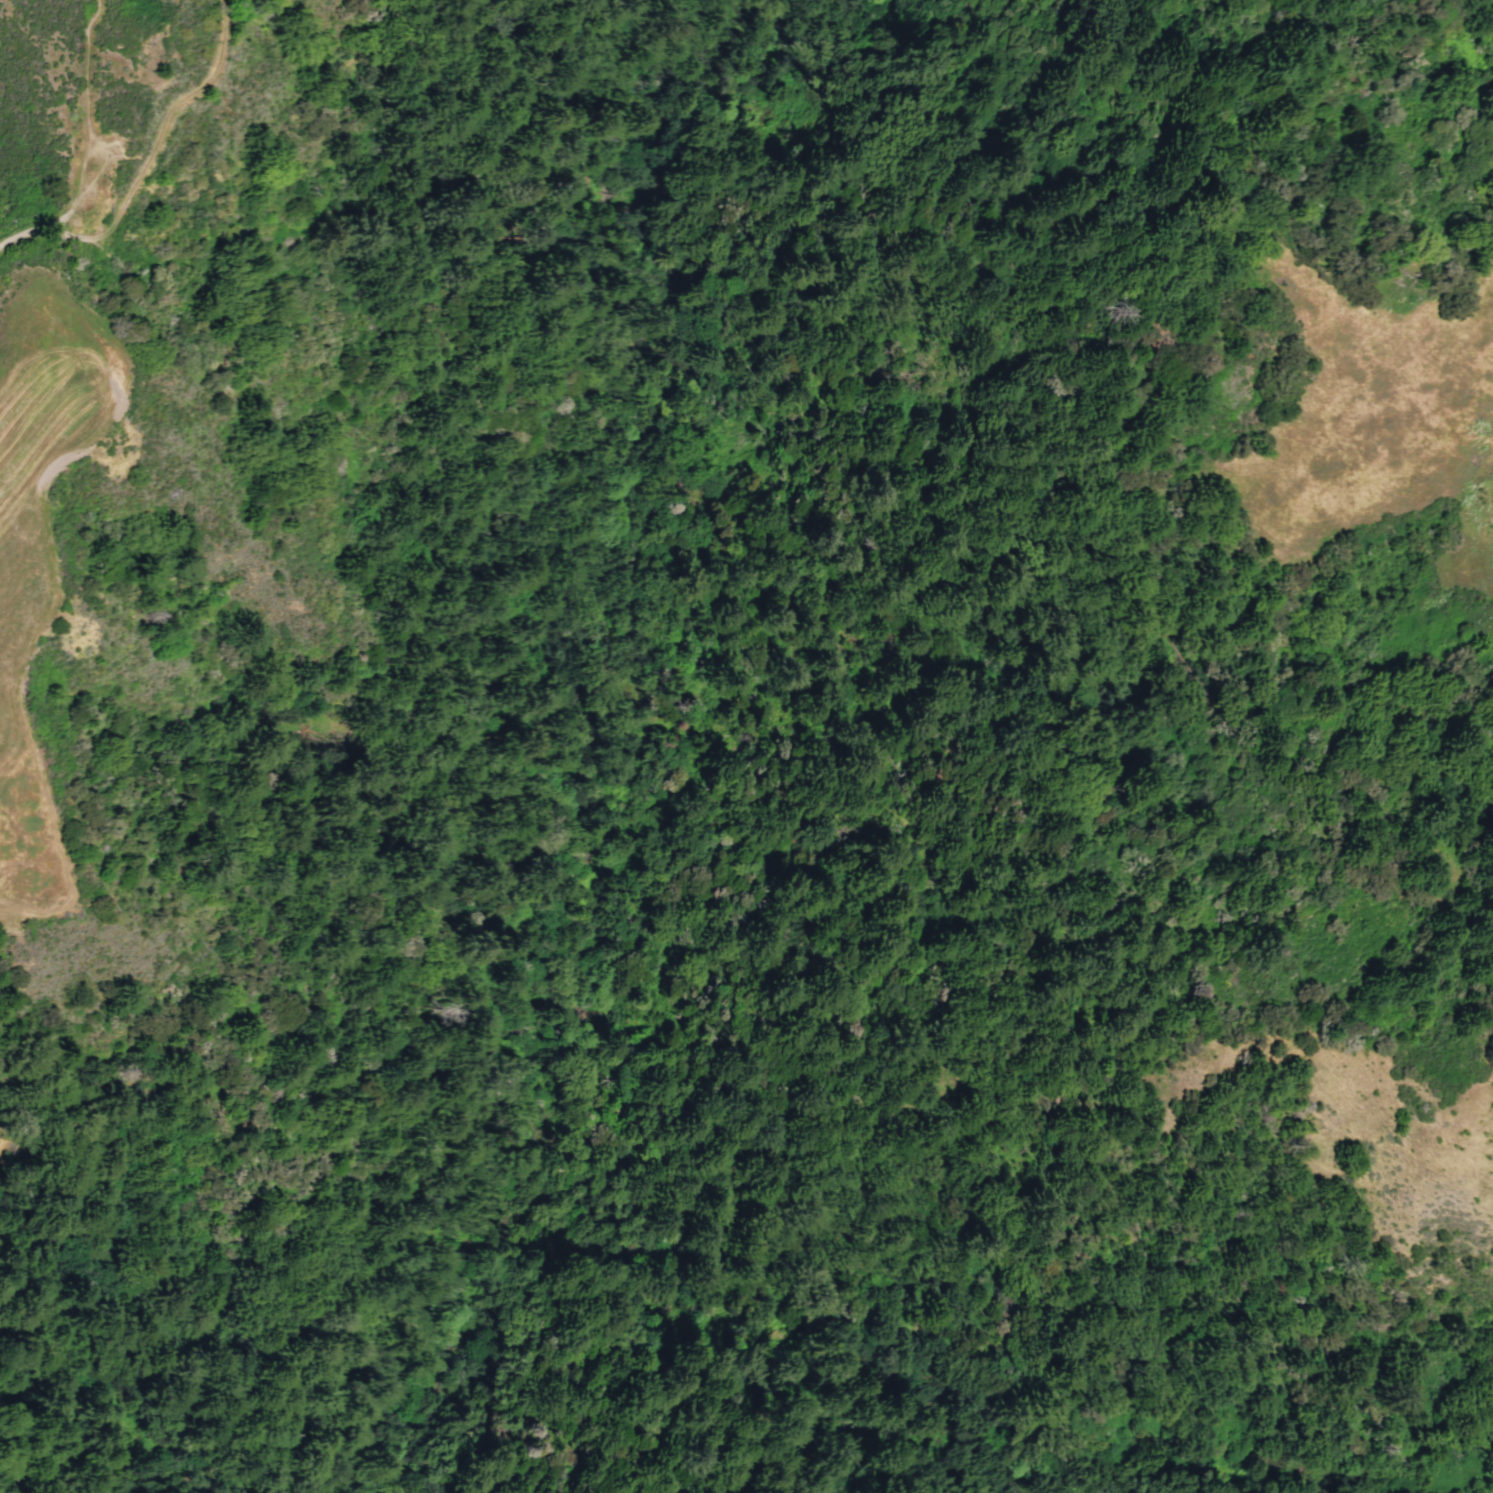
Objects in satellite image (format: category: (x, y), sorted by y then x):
road: (669, 64)
road: (75, 115)
road: (144, 163)

